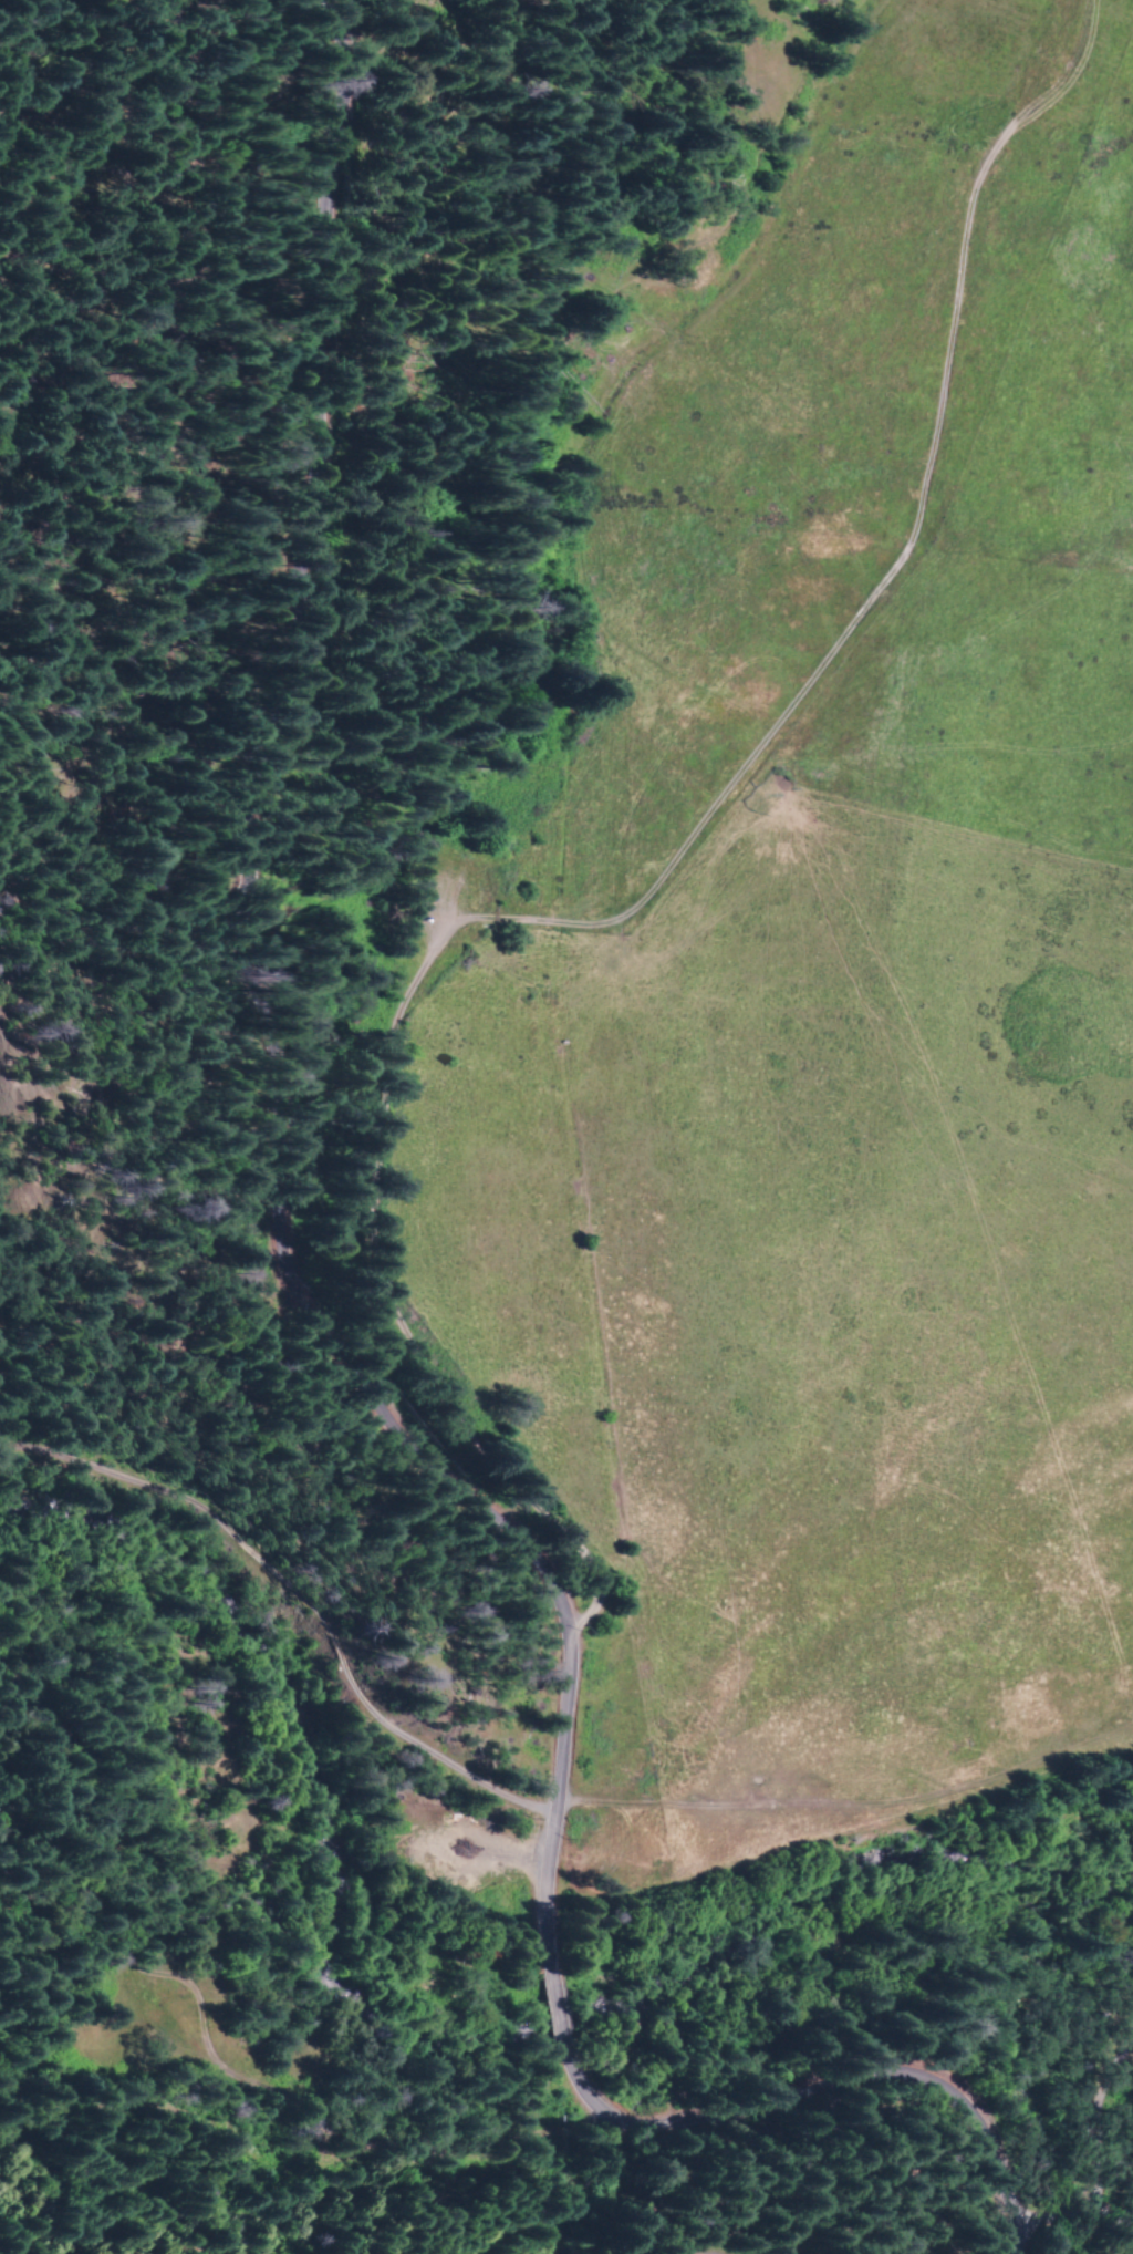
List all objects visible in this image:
road: (509, 444)
road: (630, 886)
parking lot: (438, 903)
road: (274, 1031)
road: (300, 1602)
road: (552, 2003)
road: (819, 2088)
road: (1101, 2118)
road: (1072, 2206)

